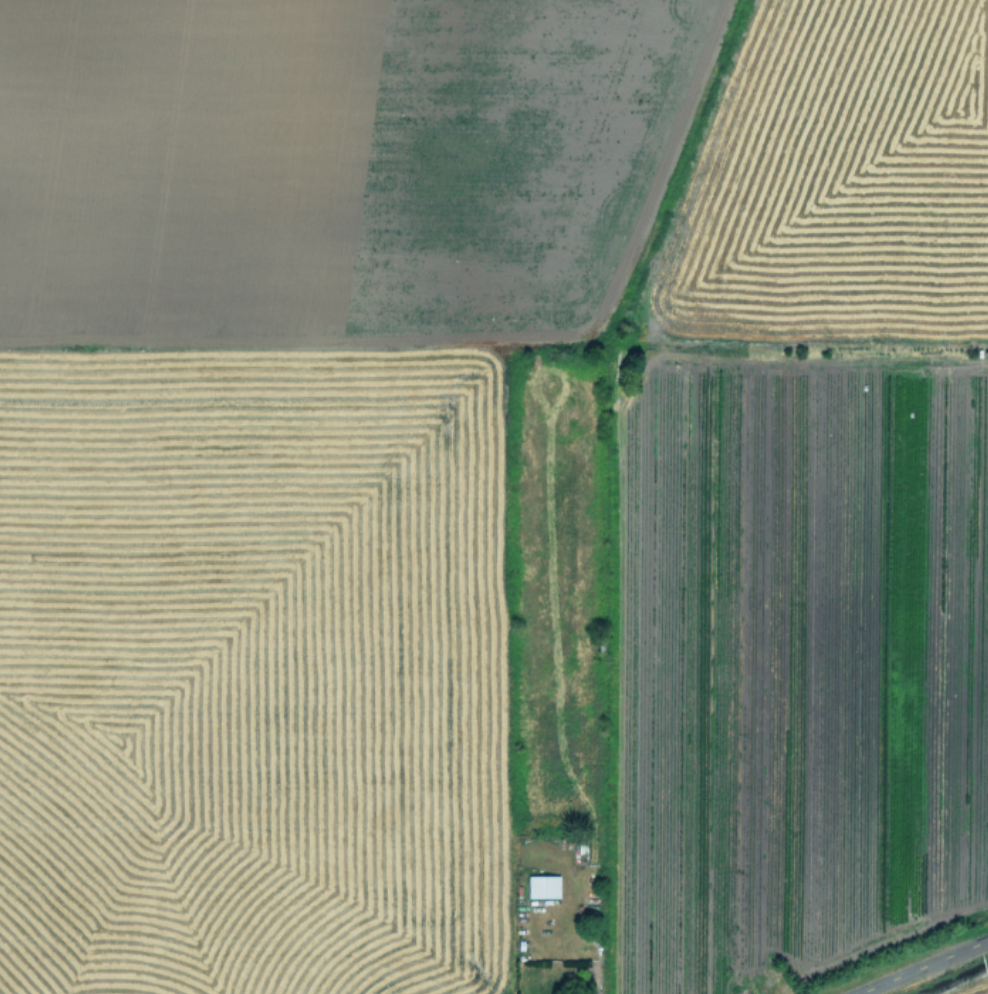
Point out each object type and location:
crop: (486, 488)
building: (542, 886)
road: (919, 966)
crop: (970, 986)

